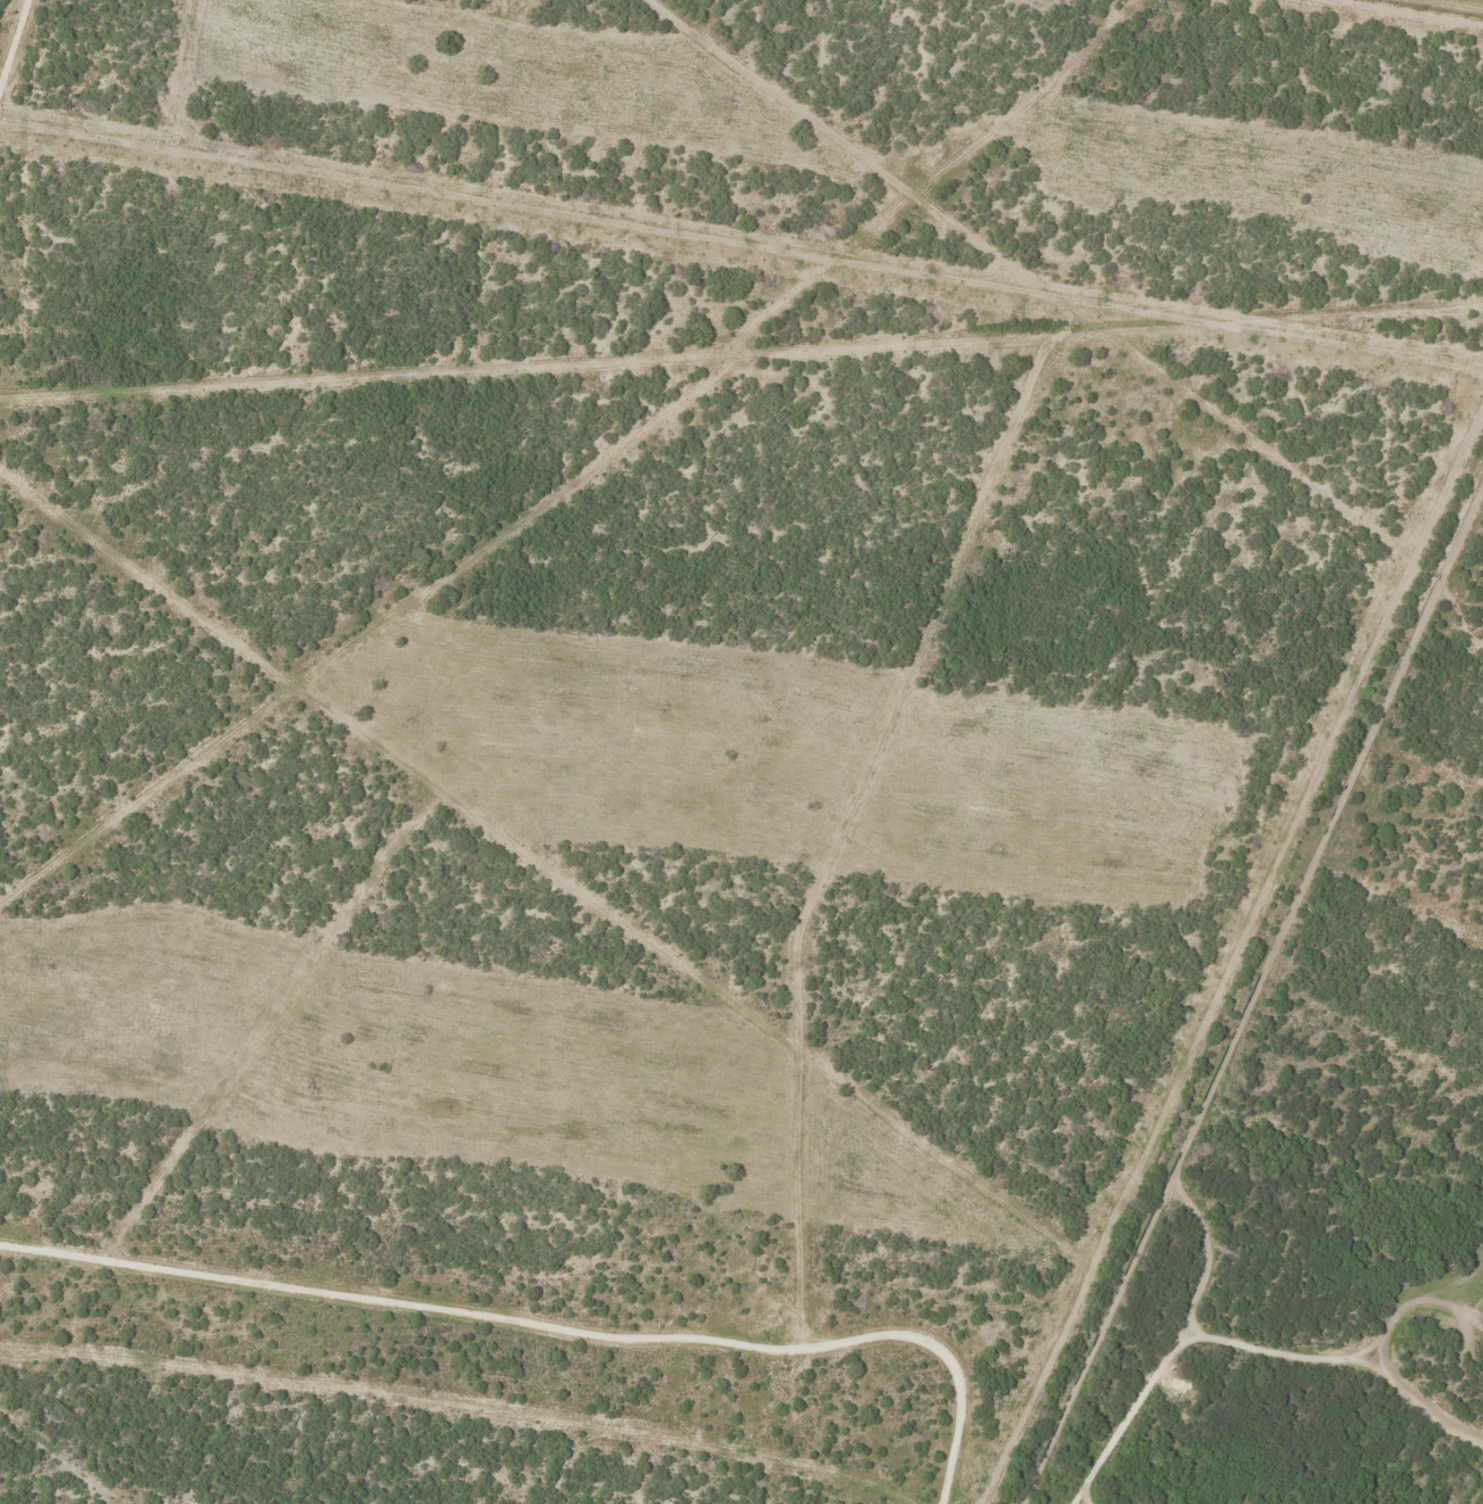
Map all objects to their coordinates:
road: (581, 1289)

